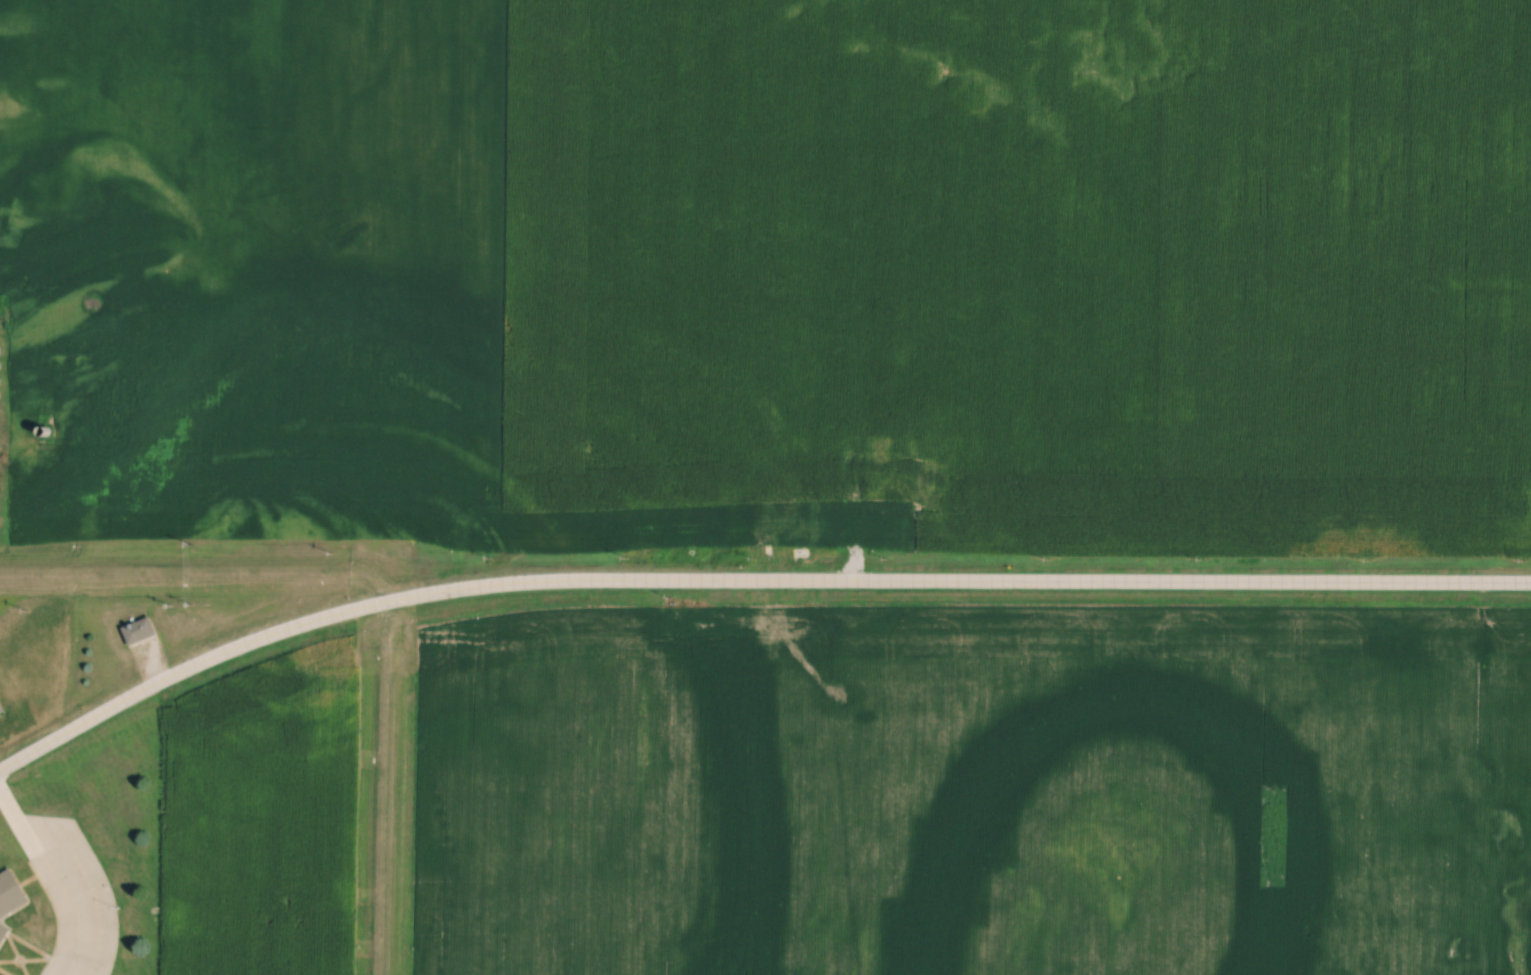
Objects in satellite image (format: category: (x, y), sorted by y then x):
road: (963, 584)
building: (141, 632)
road: (191, 669)
building: (2, 714)
road: (44, 877)
building: (10, 892)
building: (3, 930)

